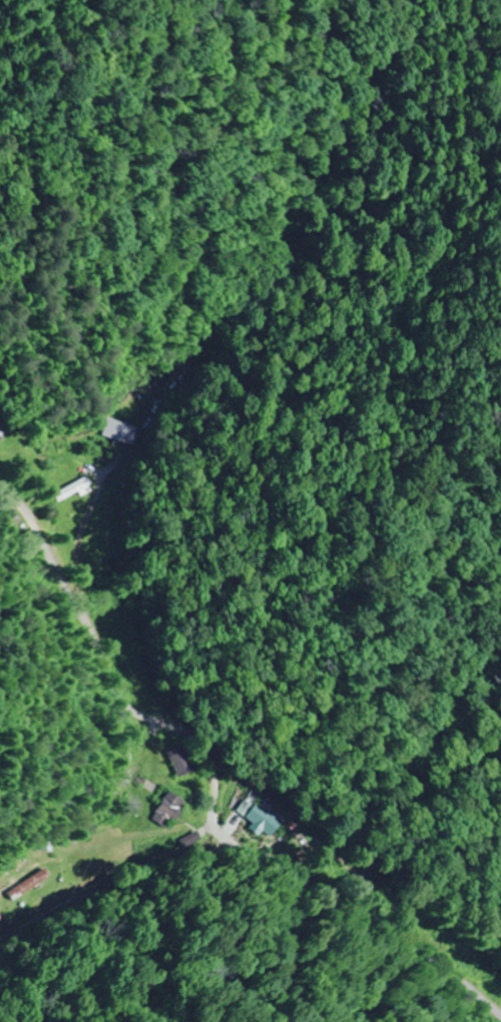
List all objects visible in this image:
building: (119, 431)
building: (75, 489)
road: (115, 675)
building: (180, 761)
building: (167, 810)
building: (264, 817)
building: (28, 885)
road: (360, 910)

